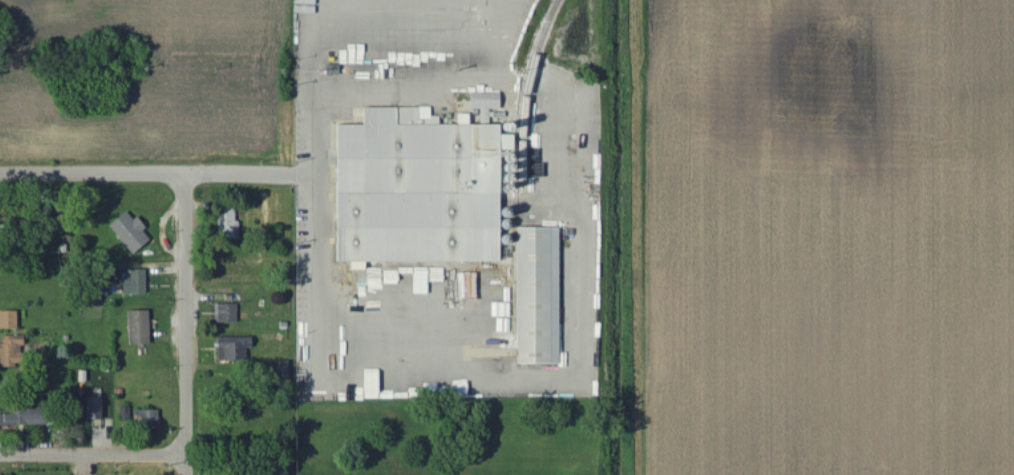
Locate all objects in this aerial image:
railway: (530, 85)
building: (482, 101)
road: (145, 173)
building: (421, 189)
building: (225, 225)
building: (133, 232)
building: (137, 283)
building: (536, 298)
road: (319, 299)
building: (228, 313)
building: (10, 320)
road: (185, 324)
building: (140, 327)
building: (235, 350)
building: (13, 352)
building: (98, 408)
building: (126, 413)
building: (31, 416)
building: (148, 418)
road: (93, 454)

